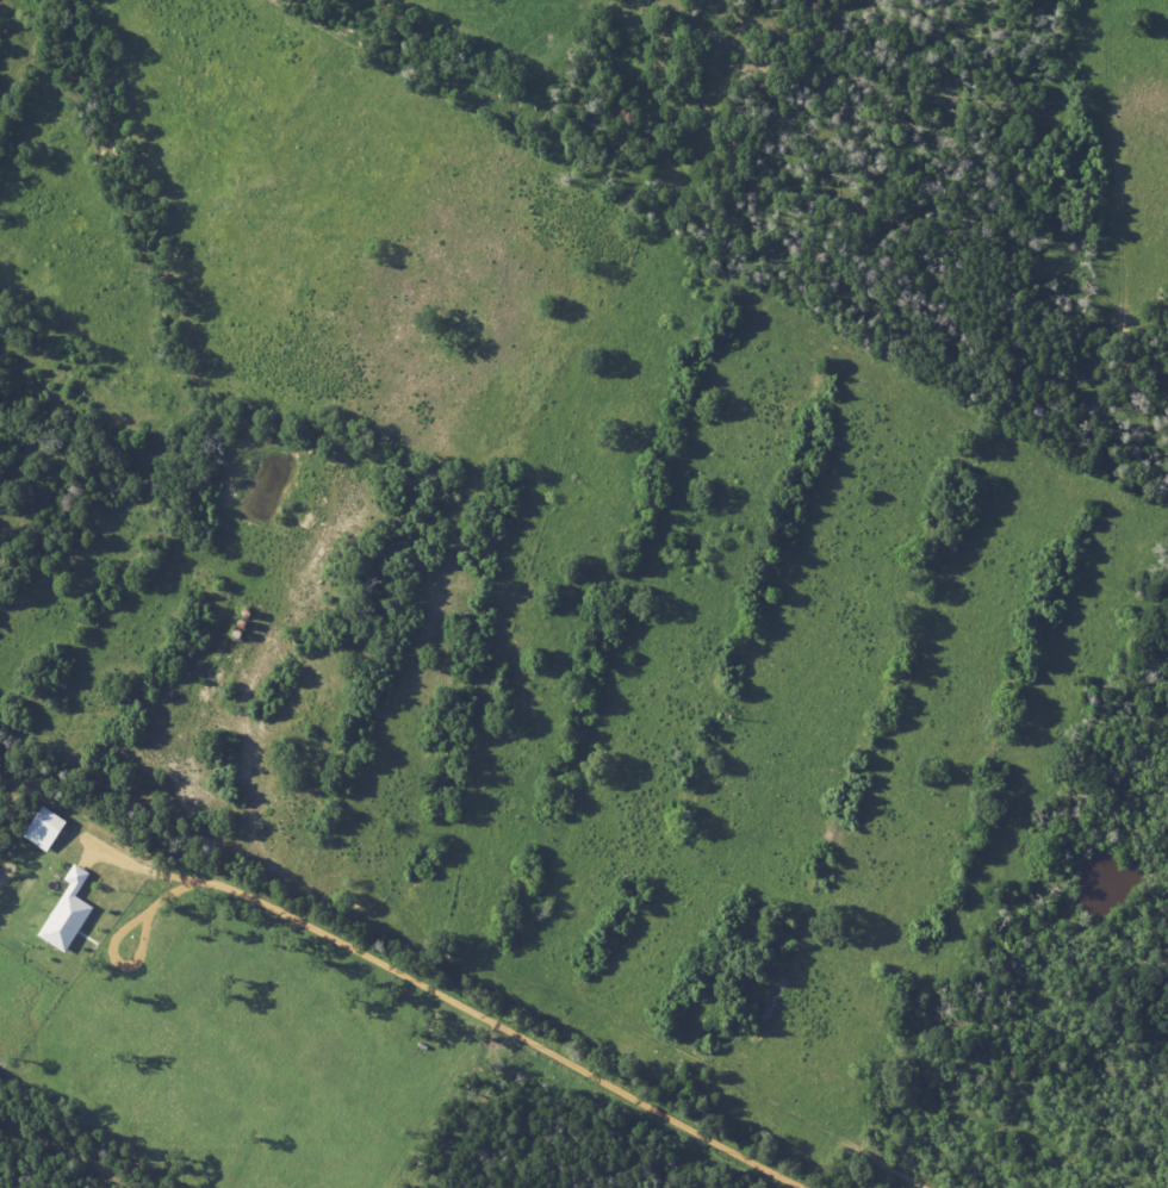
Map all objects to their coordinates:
building: (46, 828)
building: (69, 913)
road: (449, 996)

